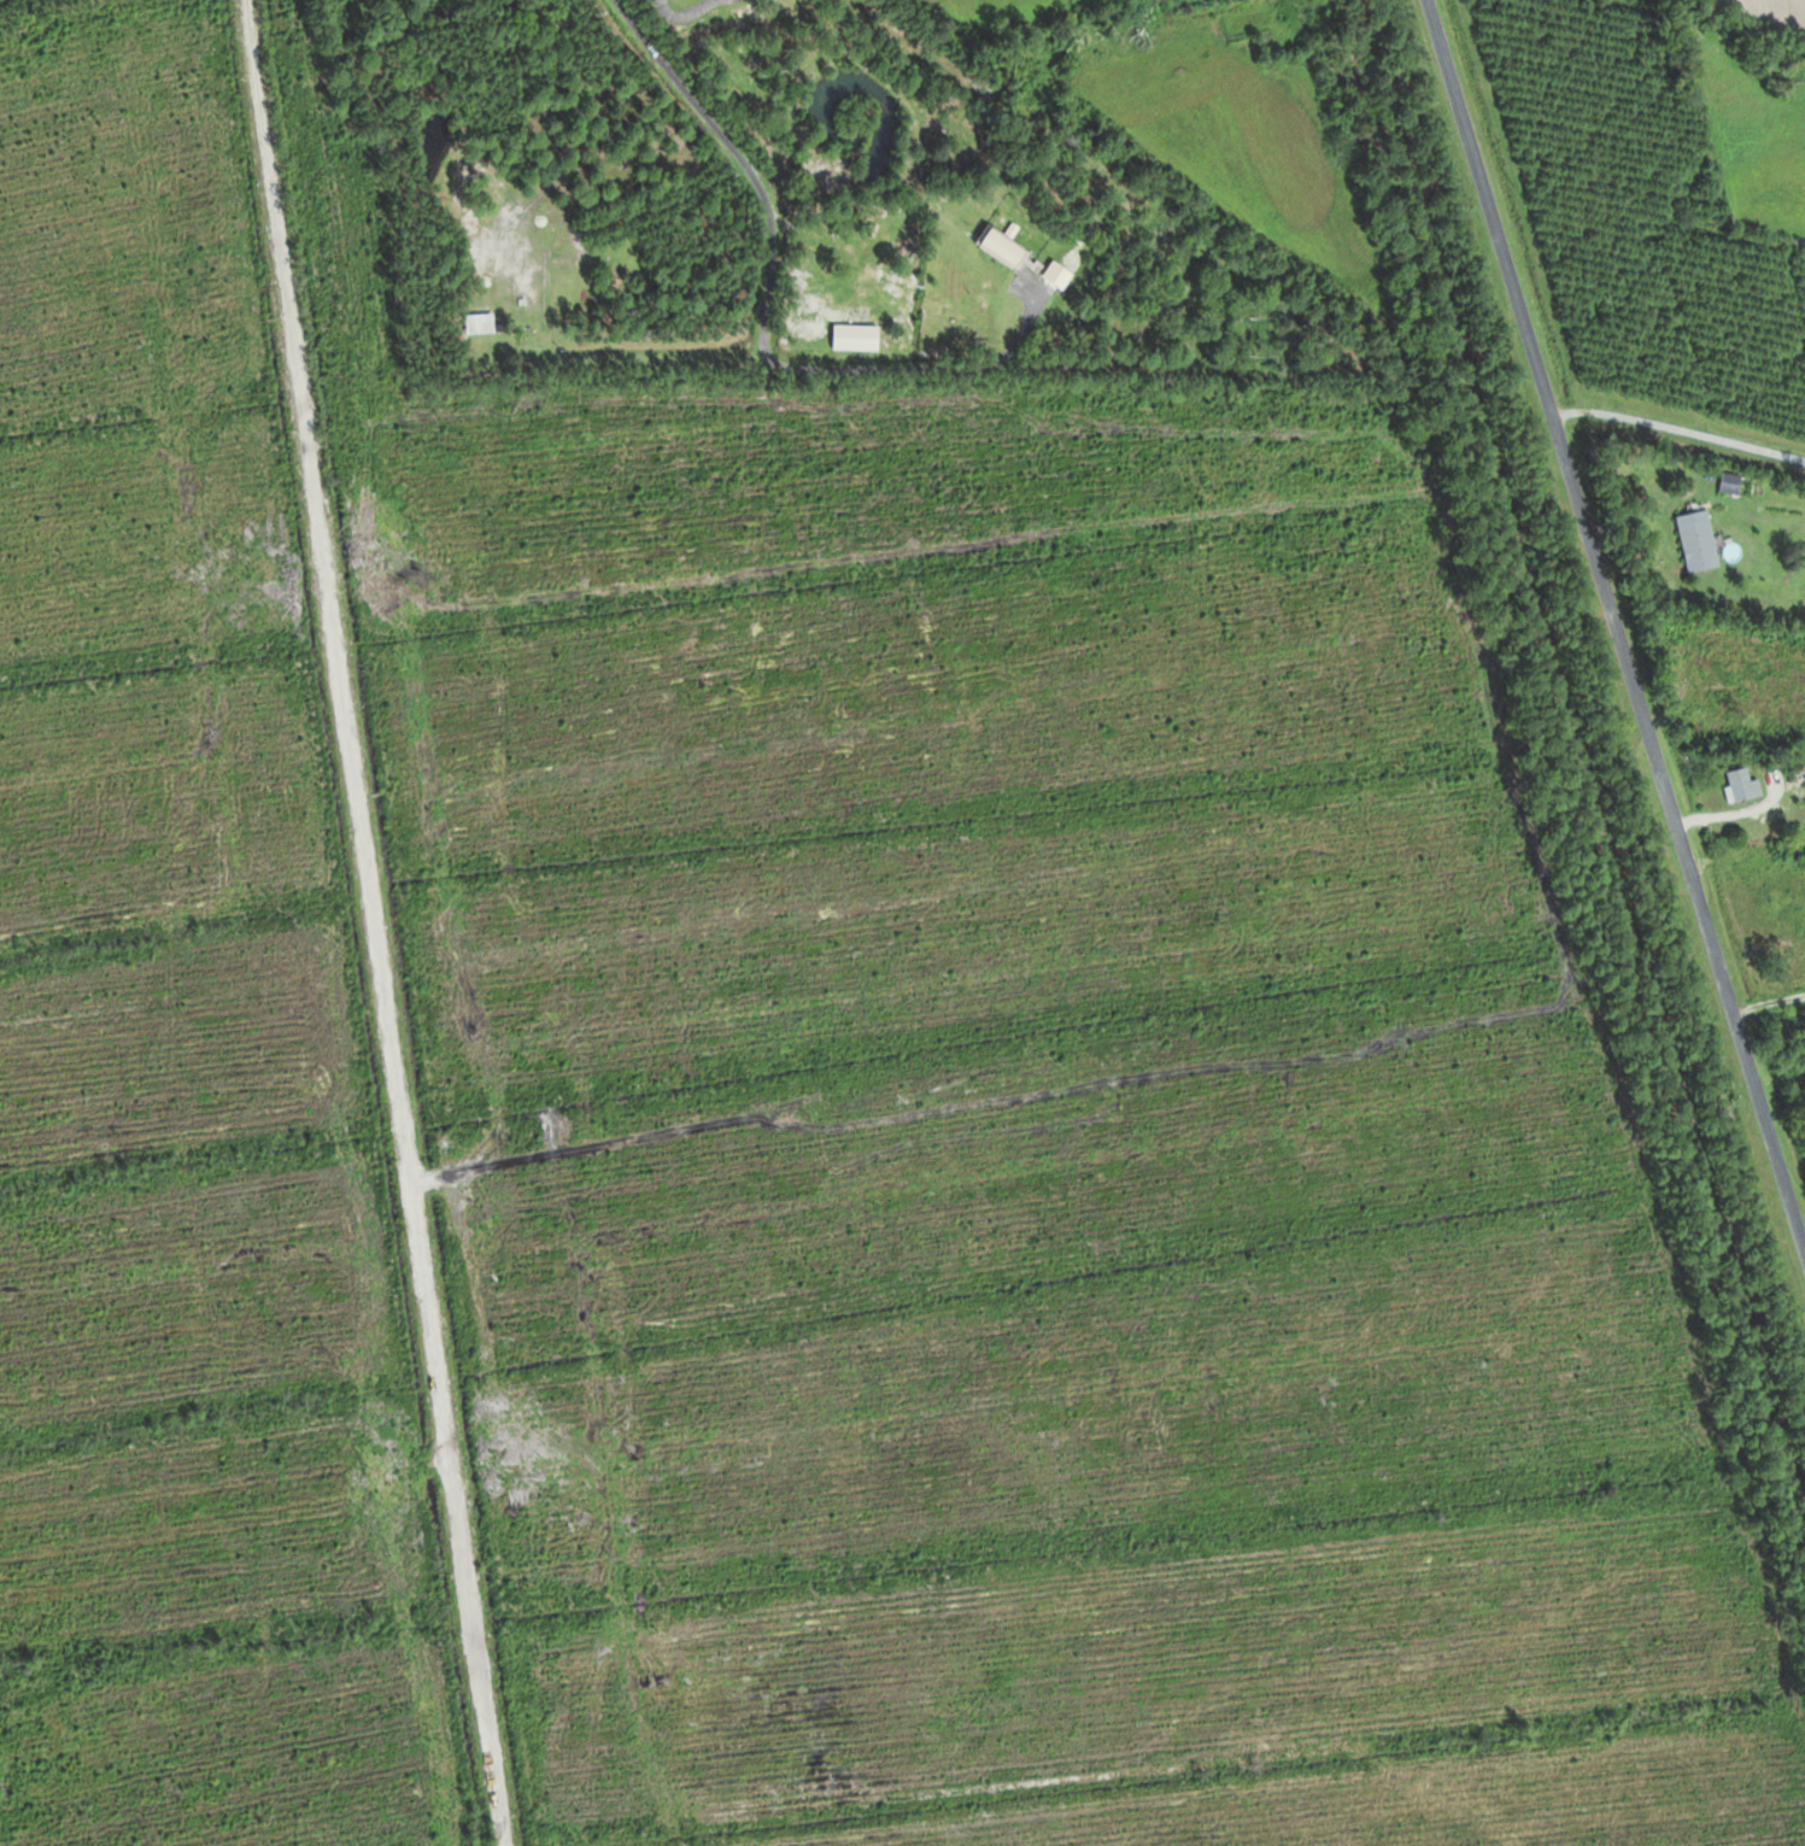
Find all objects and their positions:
building: (1007, 248)
building: (485, 323)
road: (1675, 427)
building: (1733, 482)
building: (1701, 540)
road: (1610, 625)
building: (1745, 783)
road: (48, 833)
road: (403, 922)

